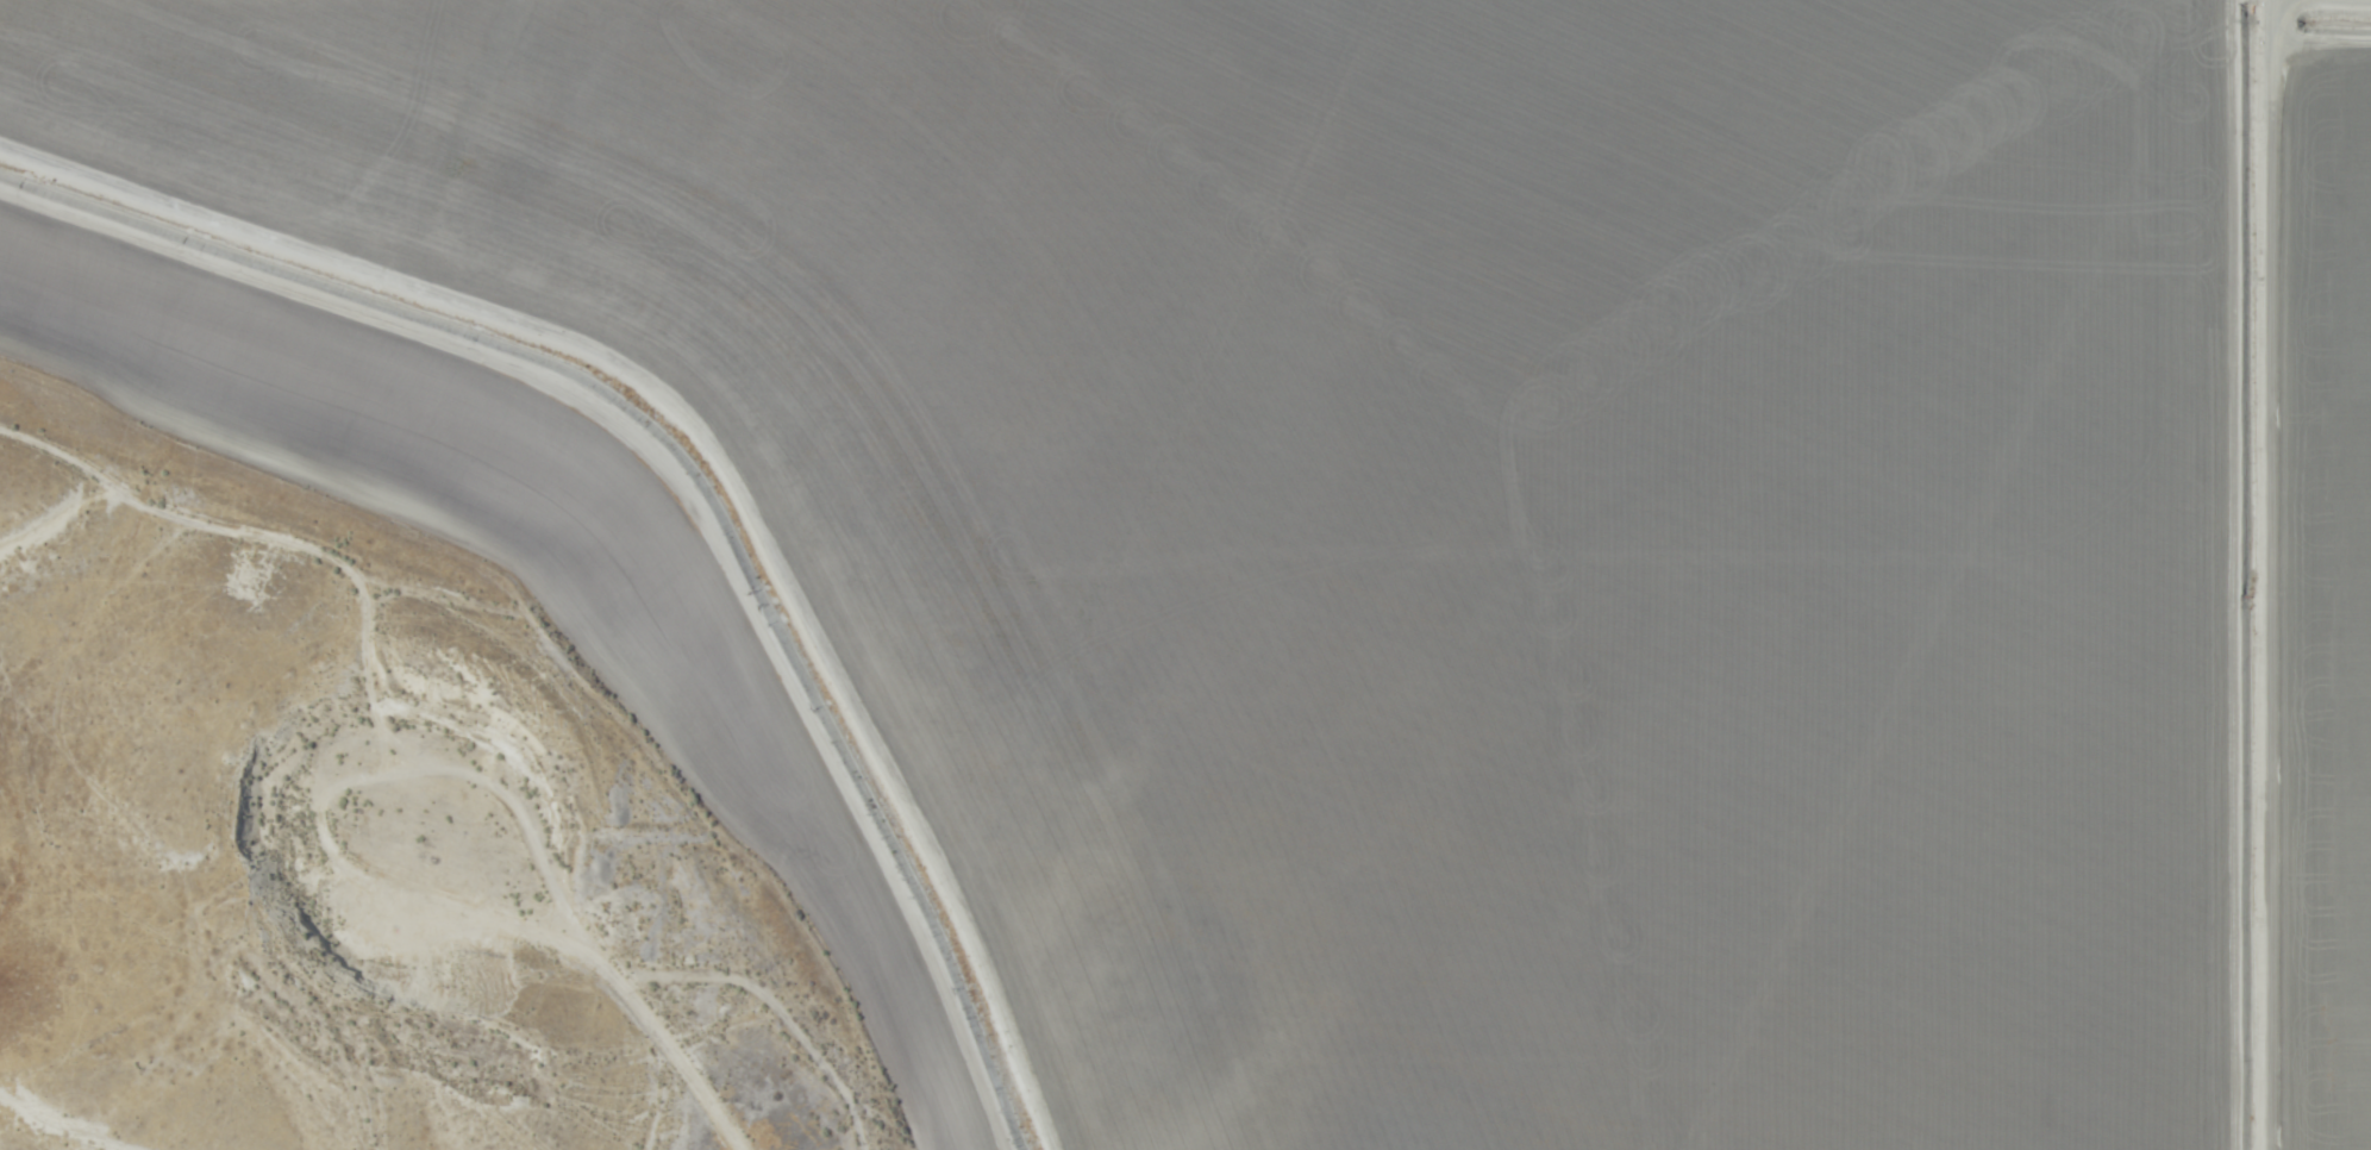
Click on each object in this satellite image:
crop: (1469, 519)
road: (2222, 575)
road: (496, 732)
road: (352, 944)

